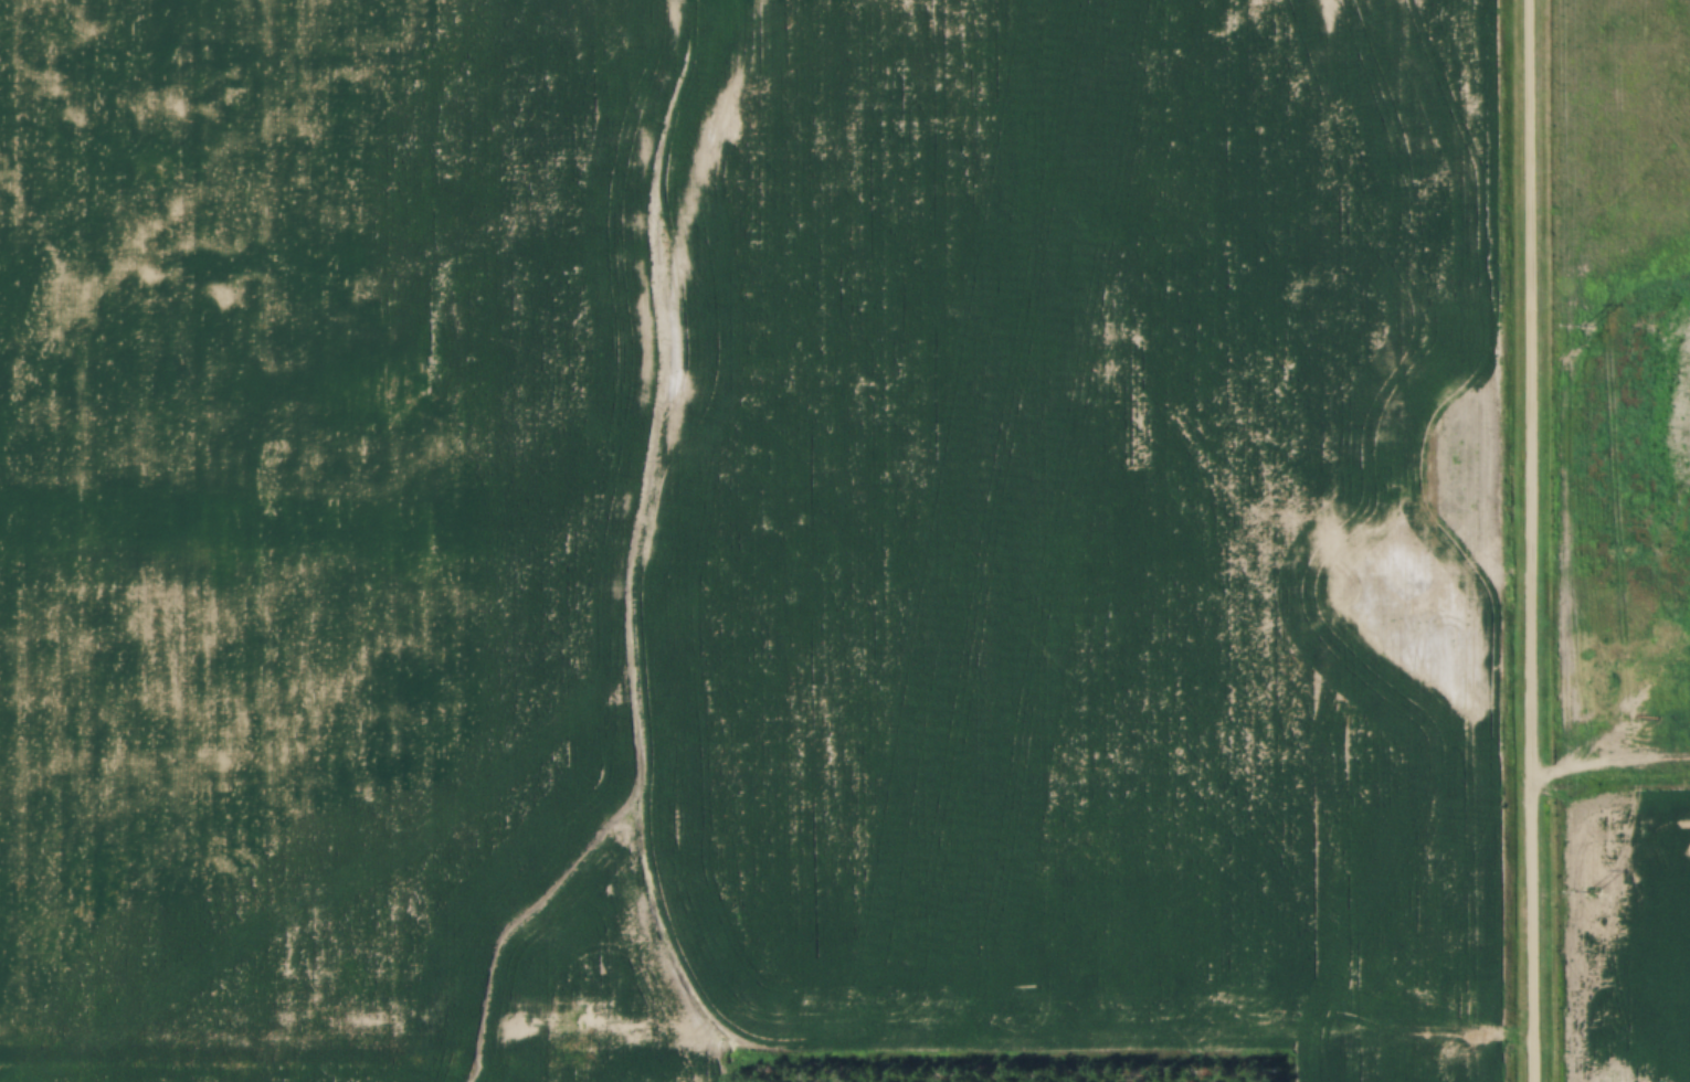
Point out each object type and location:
power tower: (1588, 328)
road: (1535, 541)
power tower: (1591, 892)

